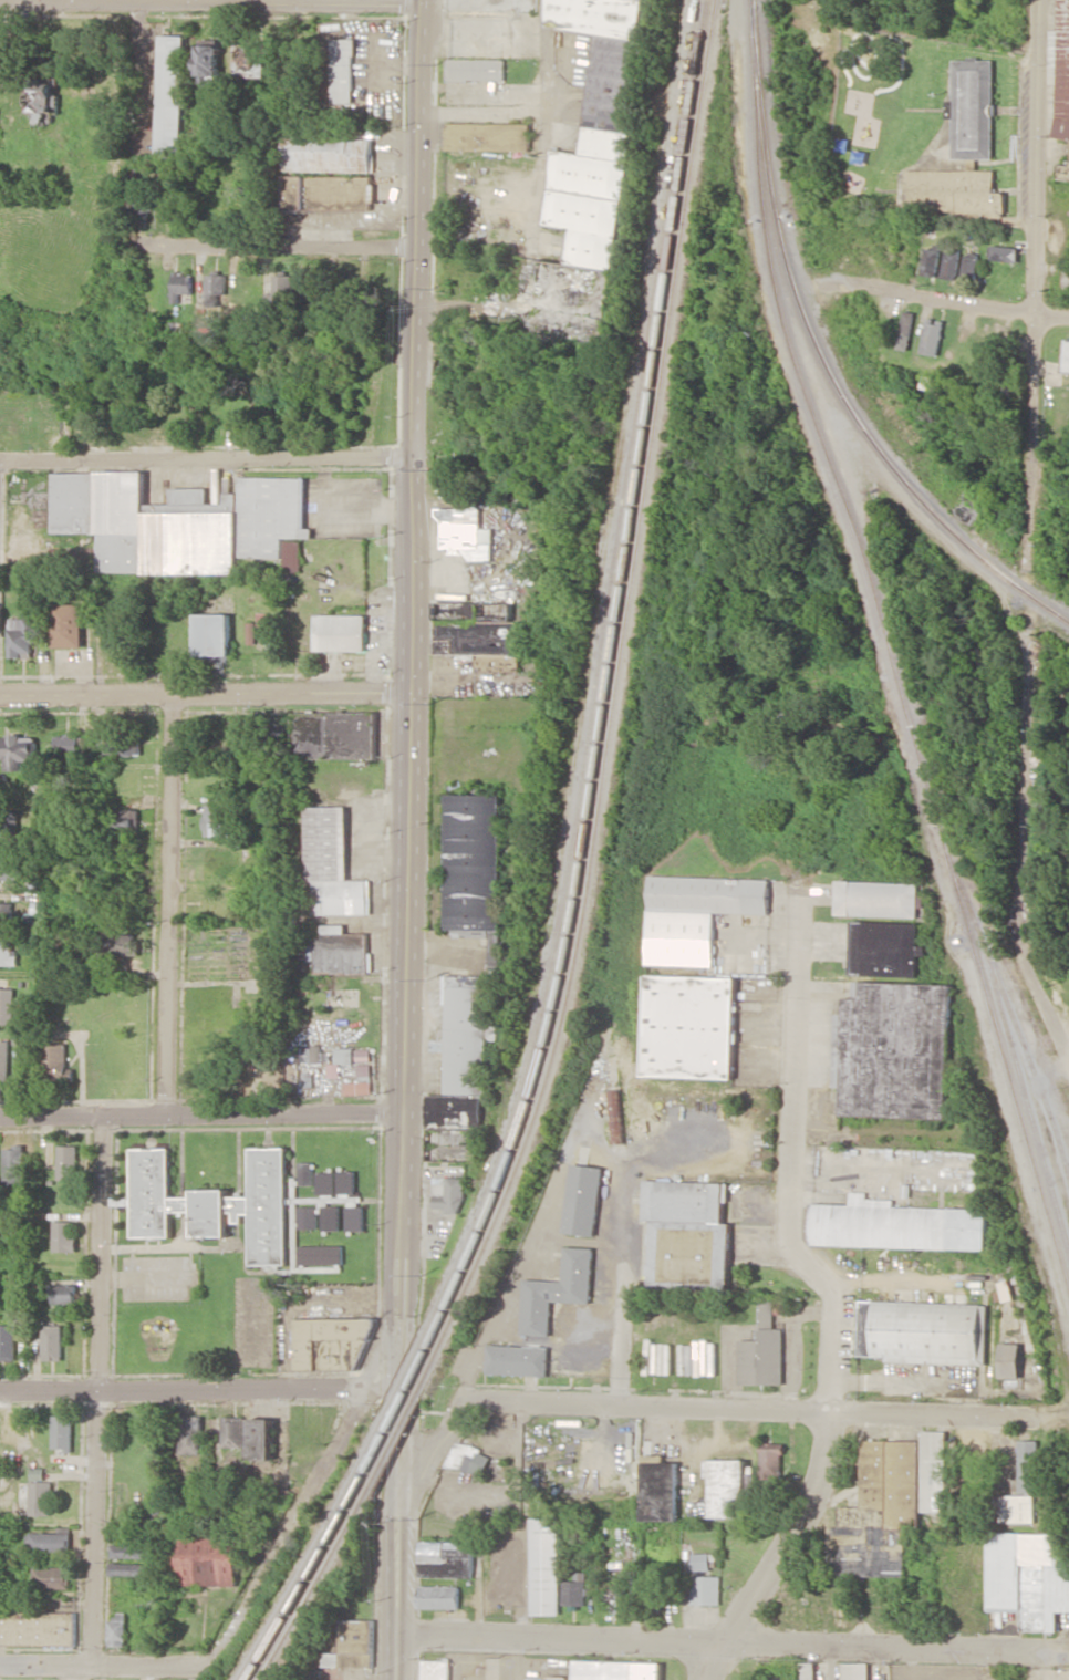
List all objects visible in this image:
road: (73, 1)
railway: (753, 2)
road: (208, 3)
building: (491, 4)
building: (208, 63)
building: (250, 63)
building: (475, 69)
building: (1061, 70)
building: (342, 71)
building: (172, 96)
building: (43, 98)
building: (972, 110)
building: (487, 136)
building: (592, 170)
building: (328, 172)
building: (1063, 174)
building: (952, 191)
road: (534, 211)
road: (290, 251)
building: (1004, 253)
building: (931, 262)
building: (969, 263)
building: (949, 265)
building: (181, 284)
building: (215, 289)
building: (281, 289)
railway: (777, 297)
road: (961, 303)
building: (906, 325)
building: (932, 336)
building: (1066, 357)
railway: (824, 360)
building: (932, 384)
building: (241, 425)
road: (205, 460)
building: (178, 522)
road: (1027, 535)
building: (292, 554)
road: (408, 556)
building: (68, 625)
building: (476, 629)
building: (341, 632)
building: (212, 635)
building: (22, 636)
building: (512, 663)
railway: (596, 675)
railway: (605, 686)
road: (203, 697)
railway: (614, 699)
building: (334, 734)
building: (120, 743)
building: (65, 744)
building: (17, 751)
building: (127, 820)
building: (217, 820)
building: (473, 861)
building: (333, 864)
building: (10, 865)
building: (878, 899)
road: (170, 906)
building: (695, 914)
building: (7, 916)
railway: (967, 936)
building: (125, 945)
building: (885, 948)
building: (341, 951)
building: (9, 955)
building: (7, 1005)
building: (688, 1027)
railway: (1006, 1038)
building: (893, 1050)
railway: (1025, 1050)
building: (312, 1054)
building: (344, 1056)
building: (461, 1056)
building: (55, 1061)
building: (4, 1064)
building: (308, 1080)
building: (359, 1082)
road: (200, 1116)
building: (614, 1117)
building: (68, 1162)
building: (13, 1164)
building: (305, 1173)
building: (346, 1182)
building: (325, 1183)
building: (455, 1195)
building: (582, 1200)
building: (216, 1203)
building: (308, 1216)
building: (331, 1217)
building: (355, 1218)
building: (895, 1225)
building: (686, 1233)
building: (63, 1236)
road: (398, 1248)
building: (320, 1255)
road: (822, 1278)
building: (556, 1292)
building: (63, 1294)
building: (923, 1332)
building: (8, 1342)
building: (52, 1342)
building: (331, 1342)
building: (762, 1352)
building: (517, 1360)
building: (1010, 1360)
railway: (398, 1388)
road: (100, 1390)
road: (198, 1391)
railway: (398, 1407)
road: (697, 1407)
railway: (397, 1430)
building: (62, 1432)
building: (230, 1432)
road: (395, 1433)
building: (190, 1434)
building: (260, 1439)
building: (468, 1459)
building: (771, 1461)
building: (1028, 1466)
building: (934, 1471)
building: (727, 1487)
building: (661, 1491)
building: (39, 1493)
building: (1017, 1508)
building: (880, 1513)
road: (282, 1529)
building: (51, 1541)
building: (131, 1552)
building: (204, 1556)
road: (395, 1558)
building: (445, 1559)
railway: (303, 1562)
building: (700, 1562)
building: (546, 1566)
building: (131, 1569)
railway: (310, 1570)
building: (51, 1577)
building: (1028, 1577)
railway: (313, 1582)
building: (575, 1590)
building: (706, 1590)
building: (438, 1597)
building: (37, 1629)
building: (116, 1630)
building: (351, 1645)
road: (727, 1645)
road: (394, 1658)
road: (717, 1662)
road: (105, 1663)
building: (435, 1670)
building: (616, 1670)
building: (807, 1671)
building: (855, 1671)
building: (560, 1678)
building: (781, 1678)

